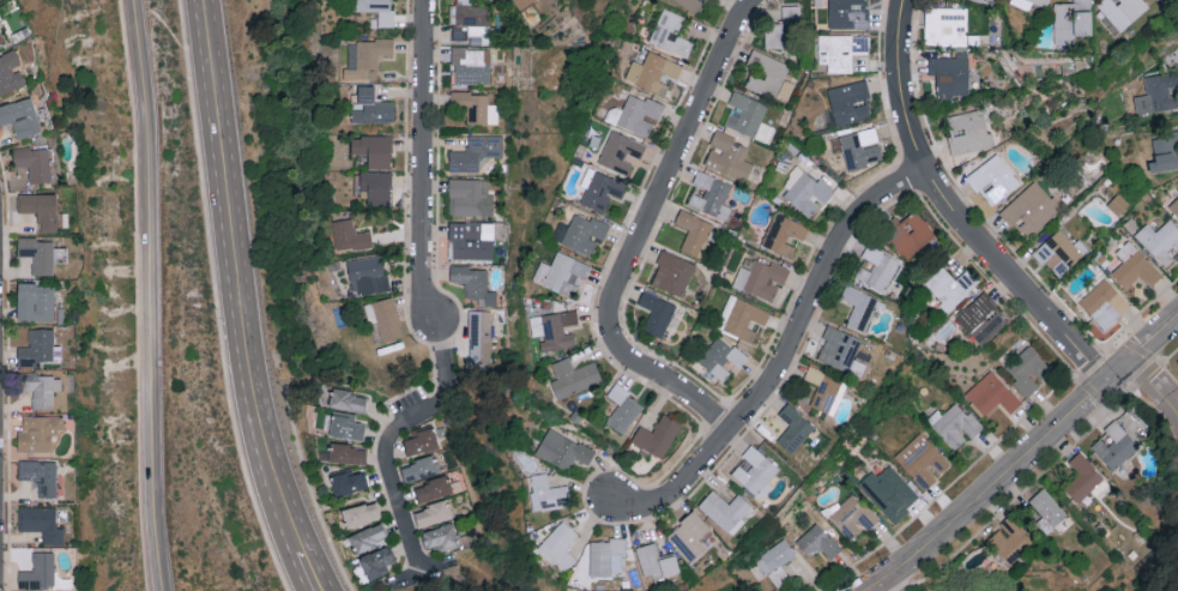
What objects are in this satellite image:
building: (709, 0)
building: (521, 2)
building: (690, 4)
building: (1028, 4)
building: (379, 11)
building: (1122, 11)
building: (847, 13)
building: (1071, 20)
building: (470, 23)
building: (946, 25)
building: (784, 29)
building: (671, 32)
building: (1, 40)
building: (840, 50)
building: (366, 58)
building: (471, 66)
building: (10, 72)
building: (653, 72)
building: (766, 73)
building: (950, 74)
building: (1158, 92)
building: (850, 102)
building: (371, 107)
building: (476, 107)
building: (635, 114)
building: (748, 116)
building: (20, 117)
building: (968, 131)
building: (860, 147)
building: (374, 150)
building: (621, 151)
building: (475, 152)
building: (1165, 152)
building: (727, 156)
building: (34, 162)
road: (671, 169)
building: (996, 177)
building: (375, 187)
building: (599, 189)
building: (805, 192)
building: (711, 195)
building: (471, 197)
building: (41, 207)
building: (1174, 207)
building: (1031, 210)
road: (953, 212)
building: (580, 233)
building: (694, 233)
building: (784, 233)
building: (908, 234)
building: (349, 235)
building: (471, 240)
building: (1160, 241)
building: (37, 253)
building: (1058, 253)
building: (1134, 266)
building: (877, 269)
building: (672, 272)
building: (367, 273)
building: (761, 277)
road: (232, 279)
building: (475, 283)
building: (950, 285)
road: (152, 295)
building: (35, 300)
road: (428, 303)
building: (1104, 303)
building: (859, 306)
building: (657, 312)
building: (742, 316)
building: (981, 318)
building: (383, 319)
building: (555, 328)
building: (479, 334)
road: (1116, 344)
building: (36, 346)
building: (839, 348)
building: (720, 356)
road: (784, 357)
road: (1158, 361)
building: (1027, 368)
road: (1076, 375)
building: (573, 376)
road: (1153, 384)
road: (672, 387)
building: (42, 388)
building: (824, 390)
building: (992, 393)
building: (348, 399)
building: (623, 408)
building: (344, 426)
building: (793, 428)
building: (38, 432)
building: (657, 435)
building: (419, 441)
building: (1114, 446)
building: (562, 448)
building: (348, 453)
road: (1023, 454)
building: (920, 460)
road: (1051, 466)
building: (418, 468)
building: (755, 471)
building: (40, 475)
building: (1082, 476)
park: (221, 478)
building: (348, 481)
building: (431, 488)
road: (947, 488)
building: (889, 492)
building: (548, 493)
building: (725, 509)
building: (1047, 509)
building: (431, 512)
building: (361, 513)
building: (850, 515)
building: (42, 523)
building: (689, 535)
building: (441, 536)
building: (368, 537)
building: (1010, 538)
building: (817, 541)
building: (558, 544)
building: (605, 555)
building: (376, 561)
building: (656, 561)
building: (38, 571)
road: (309, 572)
road: (893, 581)

